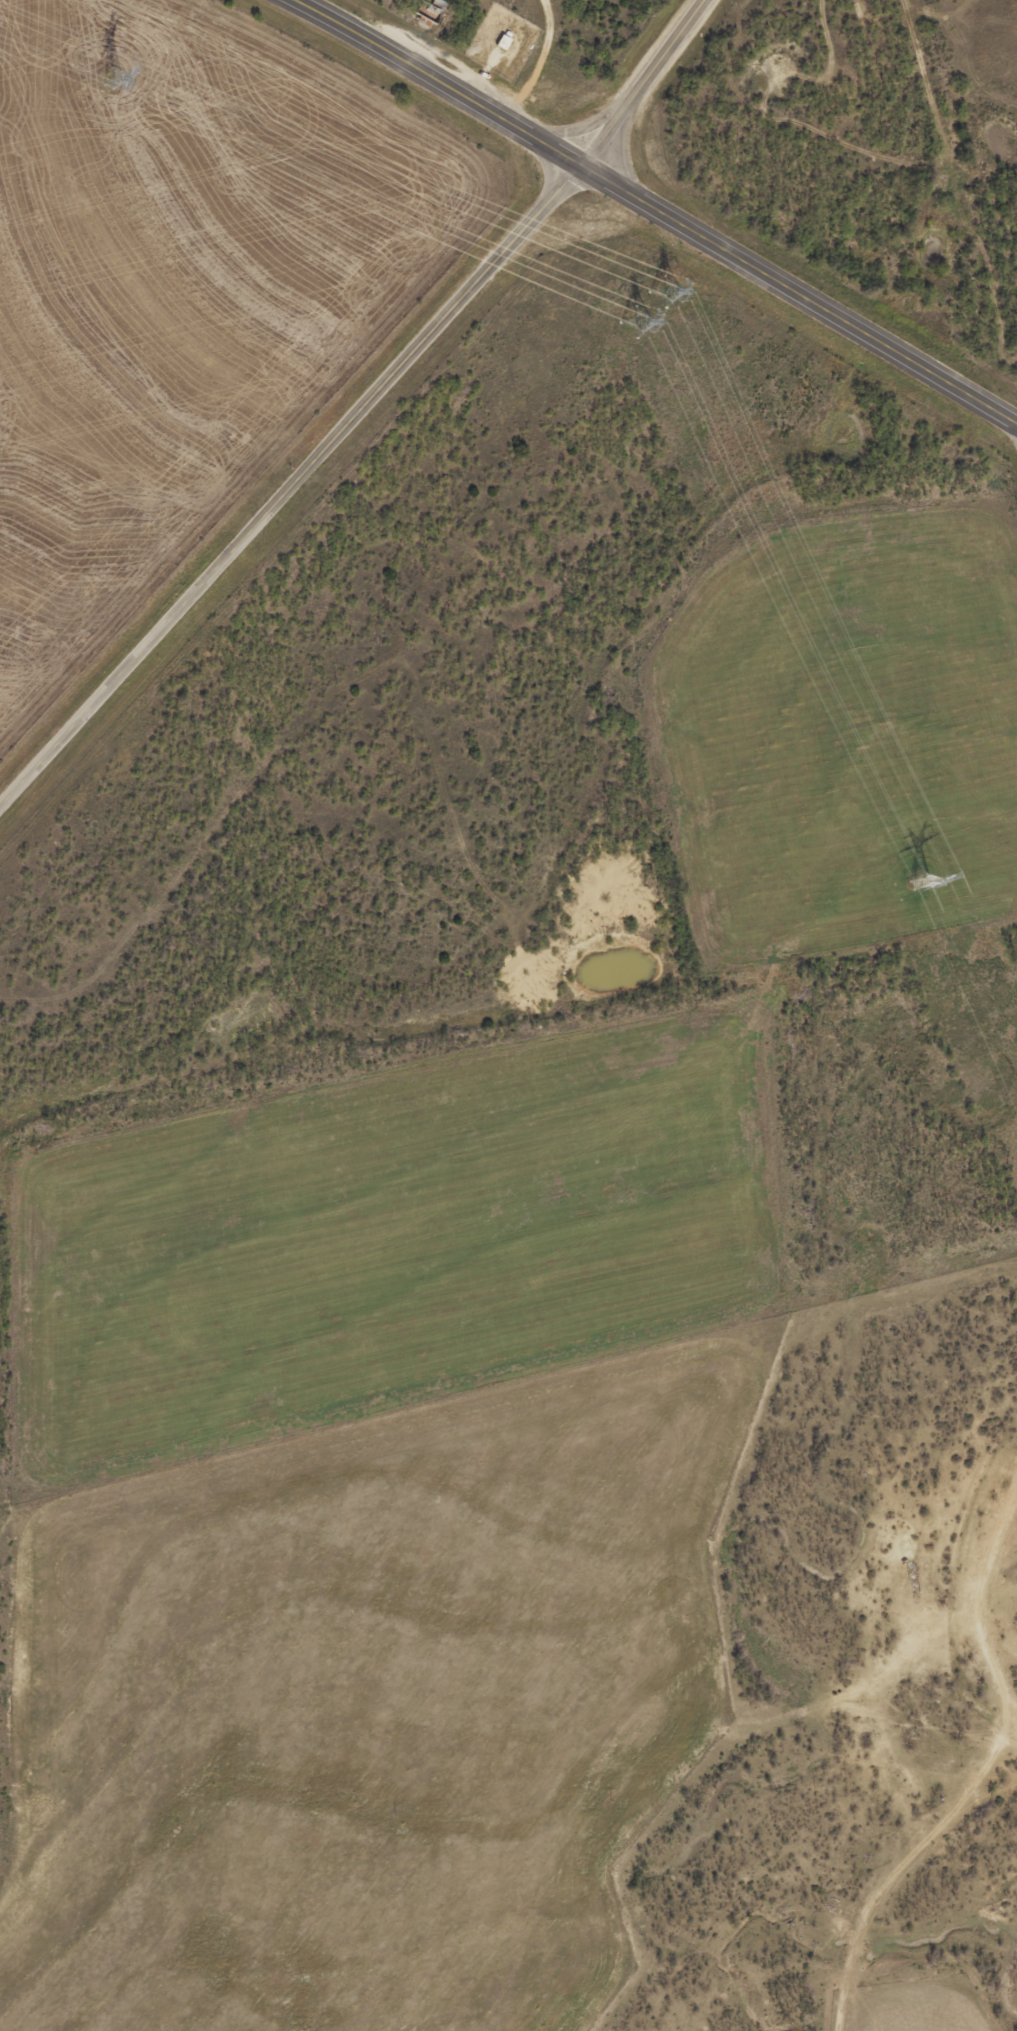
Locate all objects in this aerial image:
building: (434, 11)
power tower: (113, 77)
road: (439, 81)
road: (577, 130)
road: (800, 296)
power tower: (653, 306)
road: (361, 410)
power tower: (922, 881)

